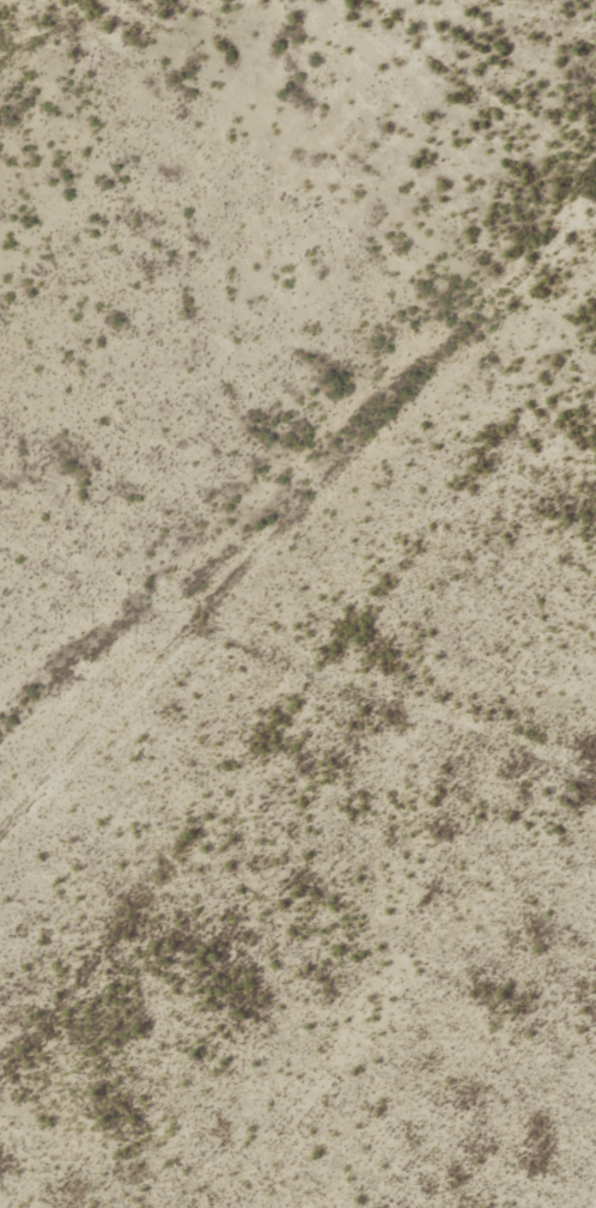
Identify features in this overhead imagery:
power tower: (177, 613)
power tower: (389, 696)

